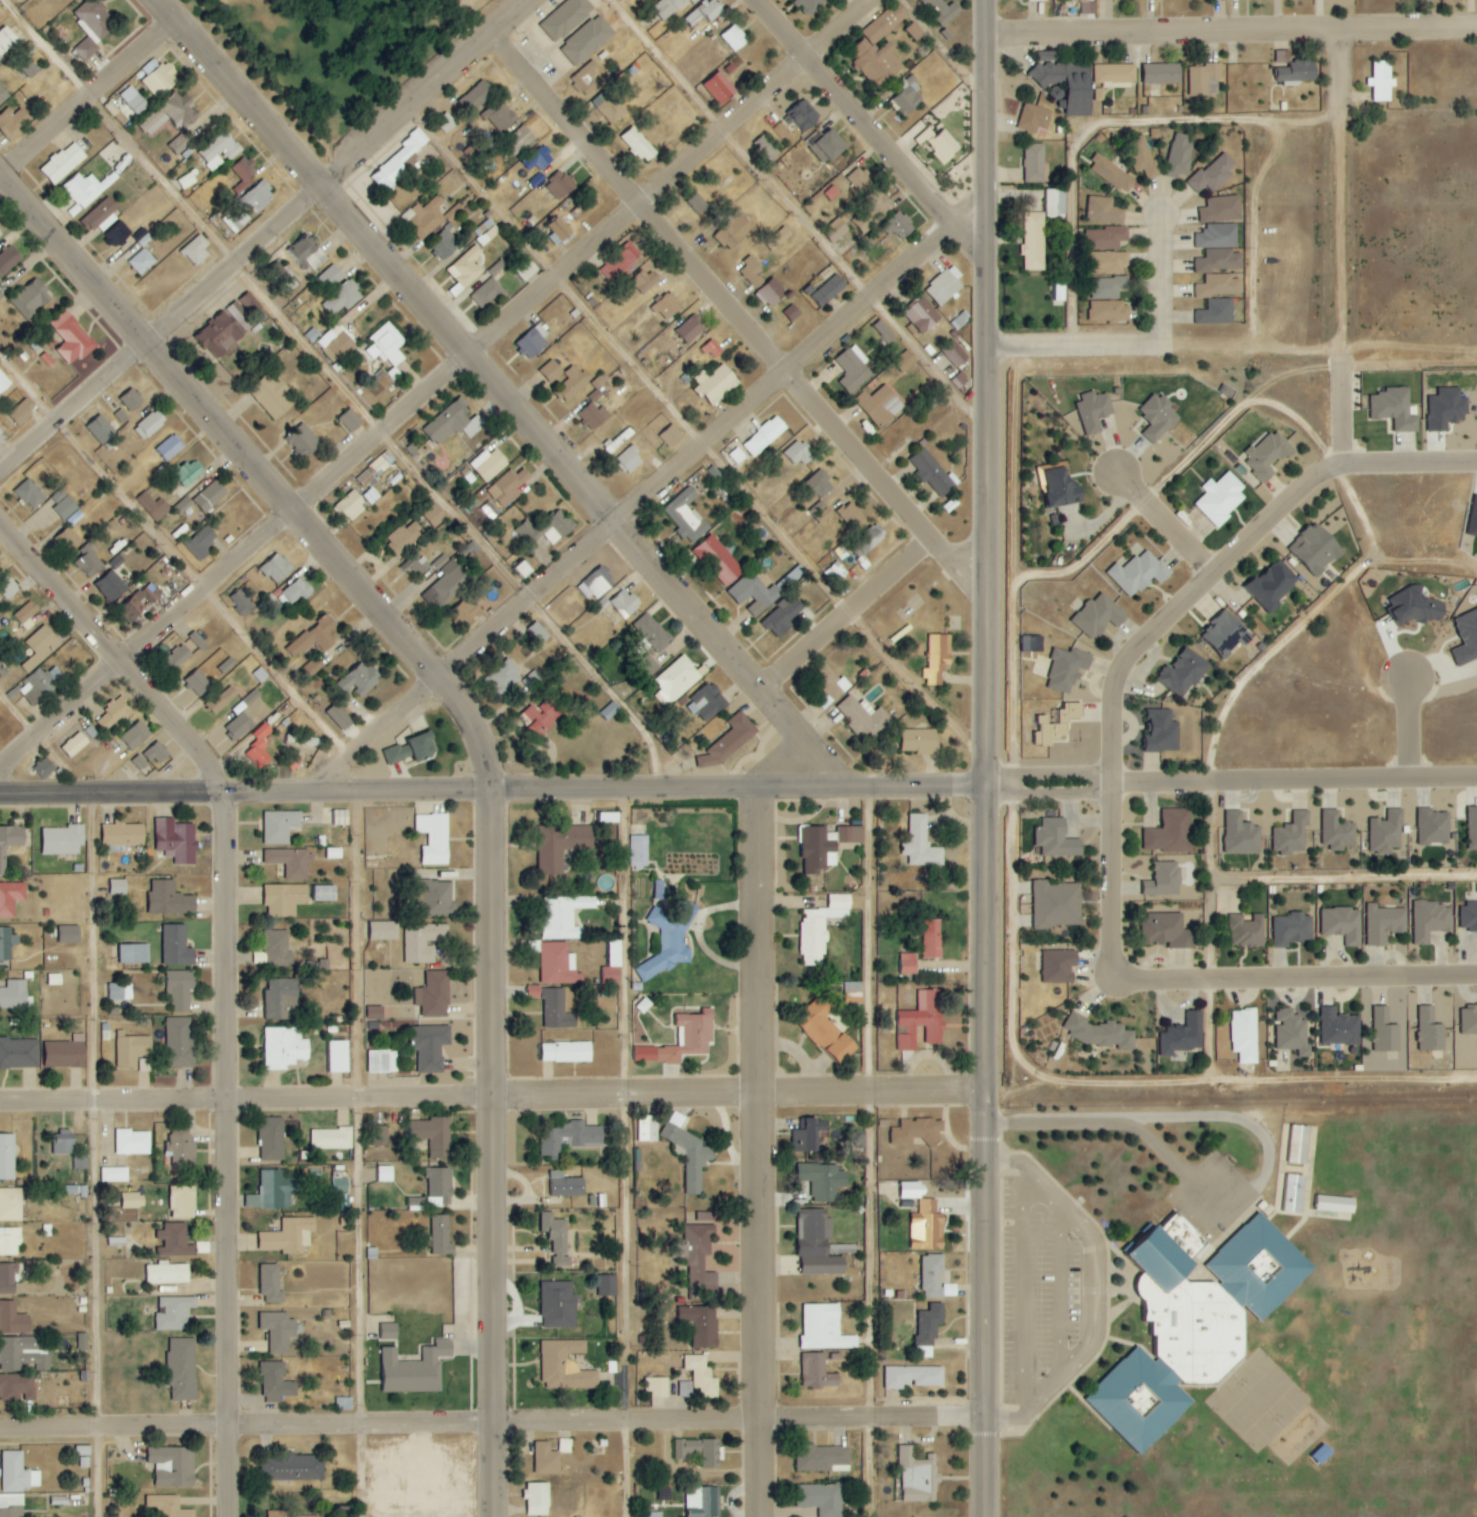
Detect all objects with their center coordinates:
building: (624, 0)
building: (1040, 0)
building: (694, 1)
building: (810, 5)
building: (1088, 6)
building: (668, 7)
building: (711, 9)
building: (944, 10)
building: (694, 17)
building: (566, 18)
building: (886, 22)
building: (93, 26)
road: (1229, 28)
building: (734, 38)
building: (6, 39)
building: (587, 40)
road: (944, 47)
building: (1283, 56)
building: (1048, 57)
building: (877, 61)
building: (32, 63)
road: (1335, 71)
building: (1298, 72)
building: (1162, 73)
building: (1203, 77)
building: (587, 79)
building: (160, 80)
building: (1381, 80)
building: (1067, 85)
building: (720, 88)
road: (85, 93)
building: (479, 94)
building: (3, 95)
building: (908, 95)
building: (132, 103)
building: (610, 106)
building: (172, 113)
building: (804, 115)
building: (502, 118)
building: (1034, 118)
building: (14, 122)
road: (1102, 122)
building: (447, 123)
road: (867, 128)
building: (519, 139)
building: (180, 144)
building: (941, 144)
building: (639, 145)
building: (769, 145)
building: (828, 146)
building: (220, 150)
building: (1178, 156)
building: (1141, 157)
building: (539, 159)
building: (399, 161)
building: (1035, 162)
building: (63, 163)
building: (243, 173)
road: (342, 173)
building: (1111, 174)
building: (1212, 175)
building: (860, 180)
building: (562, 185)
building: (83, 191)
building: (257, 197)
building: (1056, 201)
building: (698, 203)
building: (1221, 209)
road: (798, 211)
building: (1105, 211)
building: (453, 213)
building: (872, 214)
building: (102, 215)
building: (426, 219)
building: (241, 220)
building: (899, 225)
road: (1252, 229)
building: (559, 231)
building: (485, 232)
building: (735, 232)
building: (839, 232)
road: (1339, 232)
building: (0, 233)
building: (118, 234)
building: (1217, 237)
building: (779, 238)
building: (1106, 238)
building: (1034, 241)
building: (445, 247)
building: (197, 249)
building: (308, 253)
road: (581, 258)
building: (8, 260)
building: (142, 261)
building: (1220, 261)
building: (1109, 262)
building: (620, 263)
building: (467, 267)
building: (497, 267)
building: (526, 270)
building: (752, 272)
building: (330, 276)
road: (1160, 276)
building: (284, 277)
building: (644, 280)
building: (945, 286)
building: (1219, 286)
building: (1107, 287)
building: (829, 290)
building: (486, 292)
building: (772, 292)
building: (1, 296)
building: (32, 298)
building: (342, 298)
building: (251, 305)
building: (667, 306)
road: (742, 311)
building: (1109, 312)
building: (1217, 312)
building: (792, 313)
building: (922, 315)
building: (238, 318)
building: (691, 329)
building: (884, 331)
building: (220, 337)
building: (73, 339)
building: (533, 342)
road: (1072, 342)
building: (336, 343)
building: (387, 345)
road: (1318, 349)
building: (954, 354)
building: (905, 361)
building: (853, 368)
building: (551, 371)
building: (3, 382)
road: (503, 383)
building: (571, 384)
building: (716, 384)
road: (346, 387)
road: (984, 392)
building: (272, 396)
building: (131, 399)
building: (880, 405)
road: (1341, 406)
building: (1395, 409)
building: (1446, 409)
building: (23, 411)
road: (73, 411)
building: (1095, 411)
building: (594, 416)
building: (1157, 417)
building: (351, 420)
building: (452, 424)
building: (150, 425)
building: (103, 432)
road: (701, 433)
building: (671, 436)
building: (765, 436)
building: (2, 437)
building: (303, 441)
road: (713, 441)
building: (169, 448)
building: (797, 454)
building: (1268, 454)
building: (736, 456)
building: (630, 459)
building: (488, 464)
building: (375, 470)
building: (189, 474)
building: (932, 474)
building: (817, 486)
building: (509, 487)
building: (1065, 488)
building: (30, 494)
building: (1221, 499)
building: (153, 506)
building: (66, 508)
building: (489, 510)
building: (821, 512)
building: (851, 514)
building: (685, 515)
building: (435, 516)
road: (1161, 518)
building: (1473, 521)
building: (547, 529)
road: (1110, 530)
building: (404, 538)
building: (69, 541)
building: (201, 542)
building: (862, 546)
building: (1316, 549)
road: (1231, 551)
road: (177, 552)
building: (89, 561)
building: (719, 561)
building: (117, 562)
building: (440, 562)
building: (0, 568)
building: (277, 569)
building: (524, 569)
building: (1139, 573)
building: (836, 574)
building: (597, 583)
building: (448, 584)
building: (1274, 584)
building: (8, 587)
building: (111, 587)
building: (295, 593)
building: (755, 594)
building: (140, 602)
building: (241, 602)
building: (625, 604)
building: (602, 605)
building: (1417, 606)
building: (26, 612)
building: (465, 612)
road: (853, 612)
building: (783, 616)
building: (1099, 616)
road: (1303, 619)
building: (652, 633)
building: (1226, 634)
building: (315, 637)
building: (1467, 638)
building: (197, 641)
road: (147, 642)
building: (40, 647)
building: (1085, 648)
building: (178, 656)
building: (937, 659)
building: (227, 666)
building: (313, 666)
building: (644, 667)
building: (1067, 669)
building: (1185, 670)
building: (261, 675)
building: (504, 677)
building: (363, 679)
building: (533, 679)
building: (676, 679)
building: (198, 683)
building: (40, 685)
building: (830, 687)
building: (221, 700)
building: (705, 704)
building: (610, 711)
building: (113, 714)
building: (541, 715)
building: (339, 717)
building: (864, 718)
building: (1056, 724)
building: (238, 727)
road: (1405, 728)
building: (1162, 732)
building: (135, 736)
road: (378, 737)
building: (920, 741)
building: (311, 742)
building: (728, 742)
building: (75, 745)
building: (422, 746)
building: (398, 754)
building: (258, 755)
building: (151, 756)
road: (481, 760)
building: (45, 768)
road: (1048, 772)
road: (1293, 778)
road: (737, 787)
road: (1109, 788)
road: (243, 791)
road: (1048, 796)
building: (340, 817)
building: (608, 817)
building: (280, 826)
building: (1433, 827)
building: (1472, 829)
building: (1337, 831)
building: (1171, 833)
building: (1387, 833)
building: (851, 834)
building: (122, 835)
building: (1242, 835)
building: (1292, 835)
building: (11, 836)
building: (434, 838)
building: (1057, 839)
building: (63, 840)
building: (176, 840)
building: (921, 843)
building: (561, 845)
building: (817, 850)
building: (639, 851)
building: (334, 853)
building: (3, 861)
building: (292, 862)
road: (1342, 875)
road: (1207, 878)
building: (1164, 880)
building: (118, 887)
building: (325, 893)
building: (11, 898)
building: (170, 899)
building: (285, 899)
building: (438, 899)
building: (1057, 904)
building: (563, 916)
building: (1468, 917)
building: (1430, 921)
building: (1342, 924)
building: (1384, 924)
building: (821, 928)
building: (1292, 930)
building: (385, 931)
road: (1110, 931)
building: (1167, 931)
building: (1248, 931)
building: (70, 934)
building: (932, 938)
building: (424, 941)
building: (668, 942)
building: (7, 943)
building: (174, 947)
building: (278, 948)
building: (615, 953)
building: (132, 955)
building: (909, 963)
building: (558, 965)
building: (1060, 966)
road: (236, 975)
road: (1342, 976)
building: (55, 979)
building: (610, 979)
building: (180, 990)
building: (120, 992)
building: (853, 992)
building: (14, 994)
building: (434, 995)
building: (282, 999)
building: (557, 1010)
building: (375, 1012)
building: (923, 1020)
building: (1469, 1020)
road: (1208, 1027)
building: (1339, 1028)
building: (1430, 1031)
building: (827, 1032)
building: (1097, 1032)
building: (1292, 1032)
building: (1385, 1032)
building: (1183, 1035)
building: (1245, 1035)
building: (682, 1040)
building: (180, 1042)
building: (432, 1047)
building: (284, 1048)
building: (132, 1049)
building: (567, 1052)
building: (19, 1053)
building: (66, 1053)
building: (338, 1056)
building: (382, 1061)
road: (1113, 1079)
road: (92, 1085)
road: (1015, 1089)
road: (736, 1094)
road: (244, 1098)
road: (1133, 1122)
building: (821, 1125)
building: (647, 1129)
building: (917, 1131)
building: (379, 1135)
building: (434, 1135)
building: (804, 1136)
building: (331, 1138)
building: (570, 1138)
building: (272, 1139)
building: (133, 1142)
building: (64, 1143)
building: (1300, 1144)
building: (181, 1148)
road: (984, 1150)
road: (771, 1151)
road: (637, 1152)
road: (878, 1152)
road: (366, 1153)
building: (690, 1155)
building: (6, 1157)
building: (385, 1174)
building: (114, 1175)
building: (823, 1181)
building: (441, 1185)
building: (567, 1185)
building: (277, 1190)
building: (913, 1190)
building: (341, 1192)
building: (1295, 1193)
building: (131, 1200)
building: (183, 1202)
building: (1335, 1203)
building: (11, 1205)
building: (706, 1216)
building: (928, 1226)
building: (289, 1236)
building: (441, 1236)
building: (557, 1238)
building: (175, 1240)
building: (10, 1241)
building: (818, 1245)
building: (701, 1259)
building: (167, 1274)
building: (8, 1279)
building: (271, 1284)
building: (607, 1286)
road: (1103, 1294)
building: (559, 1305)
building: (174, 1313)
building: (13, 1319)
building: (1195, 1321)
building: (702, 1325)
building: (824, 1329)
building: (929, 1329)
building: (279, 1331)
building: (389, 1331)
building: (22, 1354)
building: (566, 1366)
building: (182, 1368)
building: (416, 1369)
building: (817, 1372)
building: (702, 1376)
building: (914, 1377)
building: (276, 1383)
building: (17, 1387)
building: (659, 1387)
building: (686, 1389)
building: (344, 1404)
road: (737, 1423)
road: (245, 1427)
building: (697, 1452)
building: (83, 1457)
building: (822, 1458)
building: (546, 1459)
building: (173, 1466)
building: (297, 1467)
building: (18, 1473)
building: (918, 1477)
building: (665, 1495)
building: (537, 1499)
building: (821, 1499)
building: (704, 1502)
building: (11, 1505)
building: (166, 1507)
building: (652, 1514)
building: (292, 1515)

